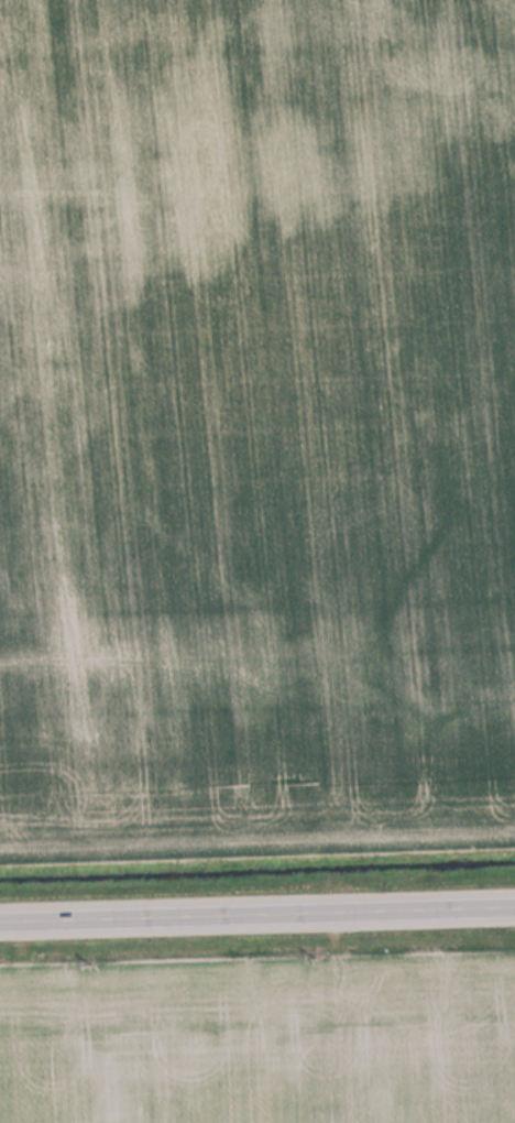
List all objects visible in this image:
road: (257, 909)

